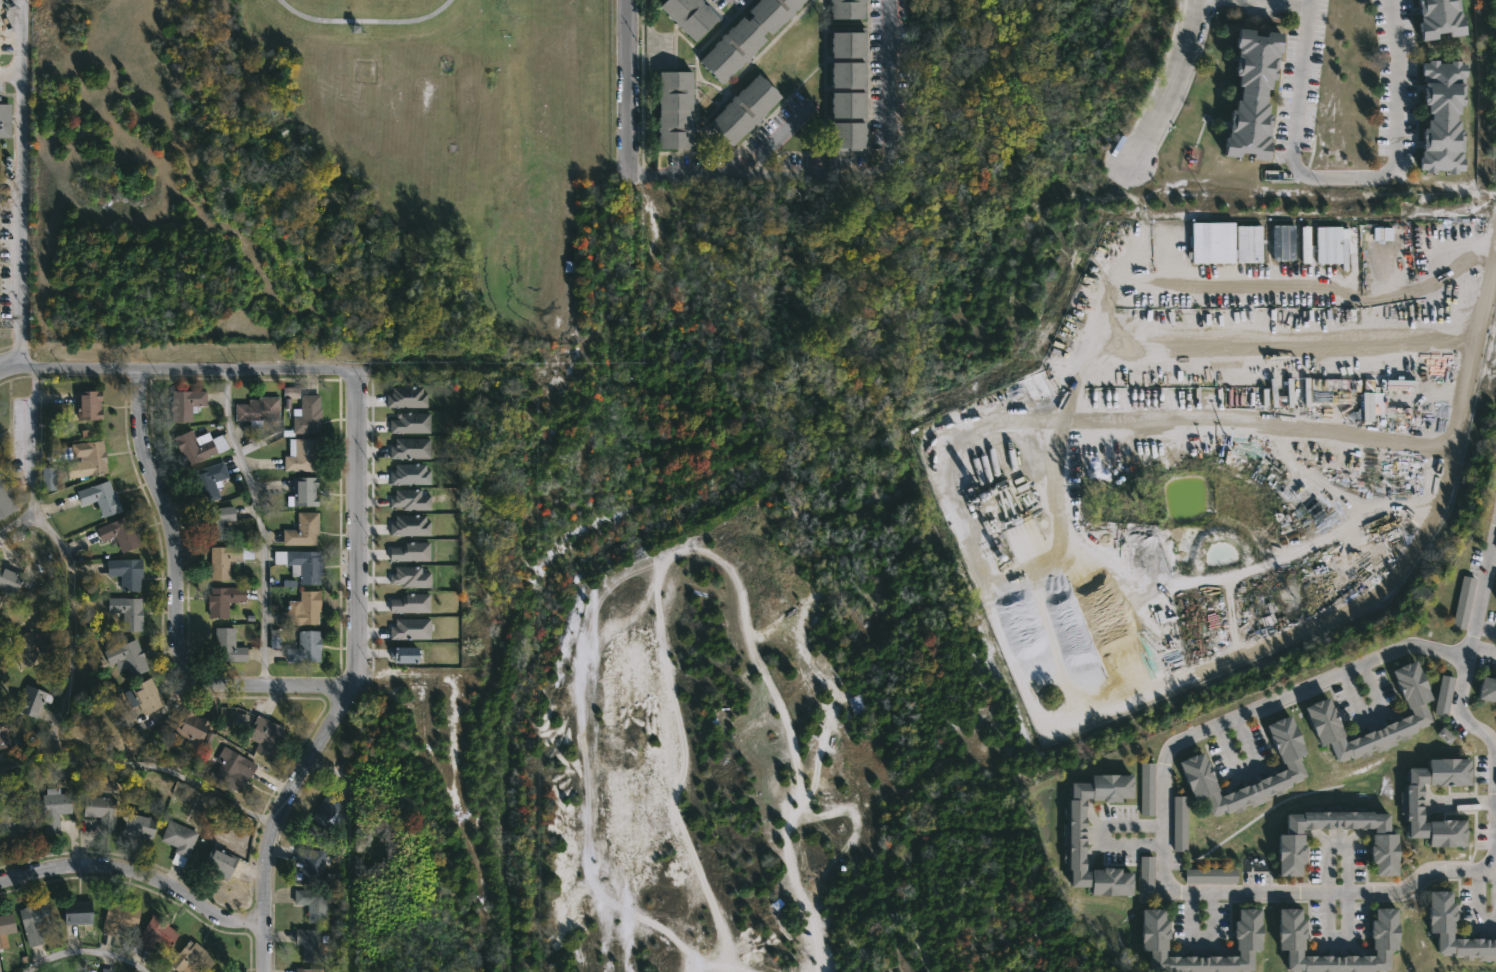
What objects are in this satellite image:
road: (1306, 1)
building: (844, 8)
park: (406, 11)
road: (372, 14)
building: (686, 15)
building: (1439, 18)
building: (743, 36)
road: (890, 48)
road: (8, 70)
road: (1169, 81)
road: (626, 86)
building: (845, 87)
building: (1250, 93)
building: (672, 109)
building: (741, 109)
building: (1441, 116)
building: (5, 120)
road: (795, 173)
road: (1340, 184)
road: (17, 186)
road: (178, 369)
building: (289, 392)
building: (404, 398)
building: (184, 404)
building: (86, 405)
building: (256, 411)
building: (304, 416)
building: (408, 423)
road: (29, 447)
building: (190, 447)
building: (407, 449)
building: (88, 455)
building: (299, 455)
building: (407, 474)
building: (48, 479)
building: (206, 482)
building: (301, 492)
building: (99, 498)
building: (6, 500)
building: (408, 500)
building: (213, 523)
road: (256, 524)
building: (409, 525)
building: (300, 531)
building: (118, 533)
road: (1080, 548)
building: (408, 552)
building: (223, 561)
building: (299, 565)
building: (124, 573)
building: (408, 577)
building: (8, 581)
road: (1483, 596)
road: (177, 601)
building: (221, 601)
building: (409, 603)
building: (1463, 603)
building: (300, 610)
building: (125, 612)
building: (408, 629)
road: (68, 635)
building: (226, 645)
building: (303, 648)
building: (23, 649)
building: (401, 655)
building: (124, 658)
road: (353, 682)
building: (1487, 690)
building: (141, 696)
building: (1442, 696)
building: (29, 701)
building: (855, 704)
building: (1318, 713)
building: (240, 719)
building: (184, 728)
road: (1484, 730)
building: (262, 736)
building: (3, 737)
building: (232, 767)
building: (1192, 768)
building: (1145, 788)
building: (1409, 805)
building: (52, 808)
building: (99, 810)
building: (324, 813)
road: (1495, 815)
building: (1085, 817)
building: (15, 823)
building: (1179, 824)
building: (138, 826)
building: (1071, 834)
road: (1099, 834)
building: (177, 841)
building: (1288, 842)
park: (472, 843)
road: (1163, 845)
building: (216, 862)
building: (309, 864)
road: (136, 875)
building: (1145, 876)
building: (1209, 877)
building: (311, 903)
building: (74, 912)
building: (116, 917)
building: (1441, 920)
building: (31, 922)
building: (6, 924)
building: (154, 934)
building: (1153, 940)
building: (1291, 941)
building: (307, 943)
road: (79, 950)
building: (189, 958)
building: (104, 969)
building: (305, 969)
building: (88, 971)
building: (219, 971)

